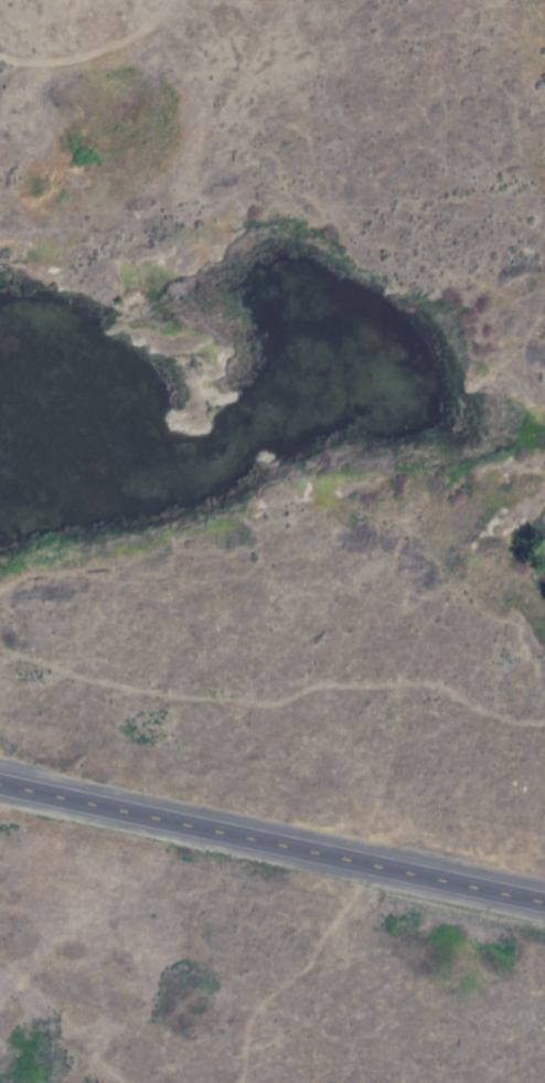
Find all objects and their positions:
road: (272, 850)

